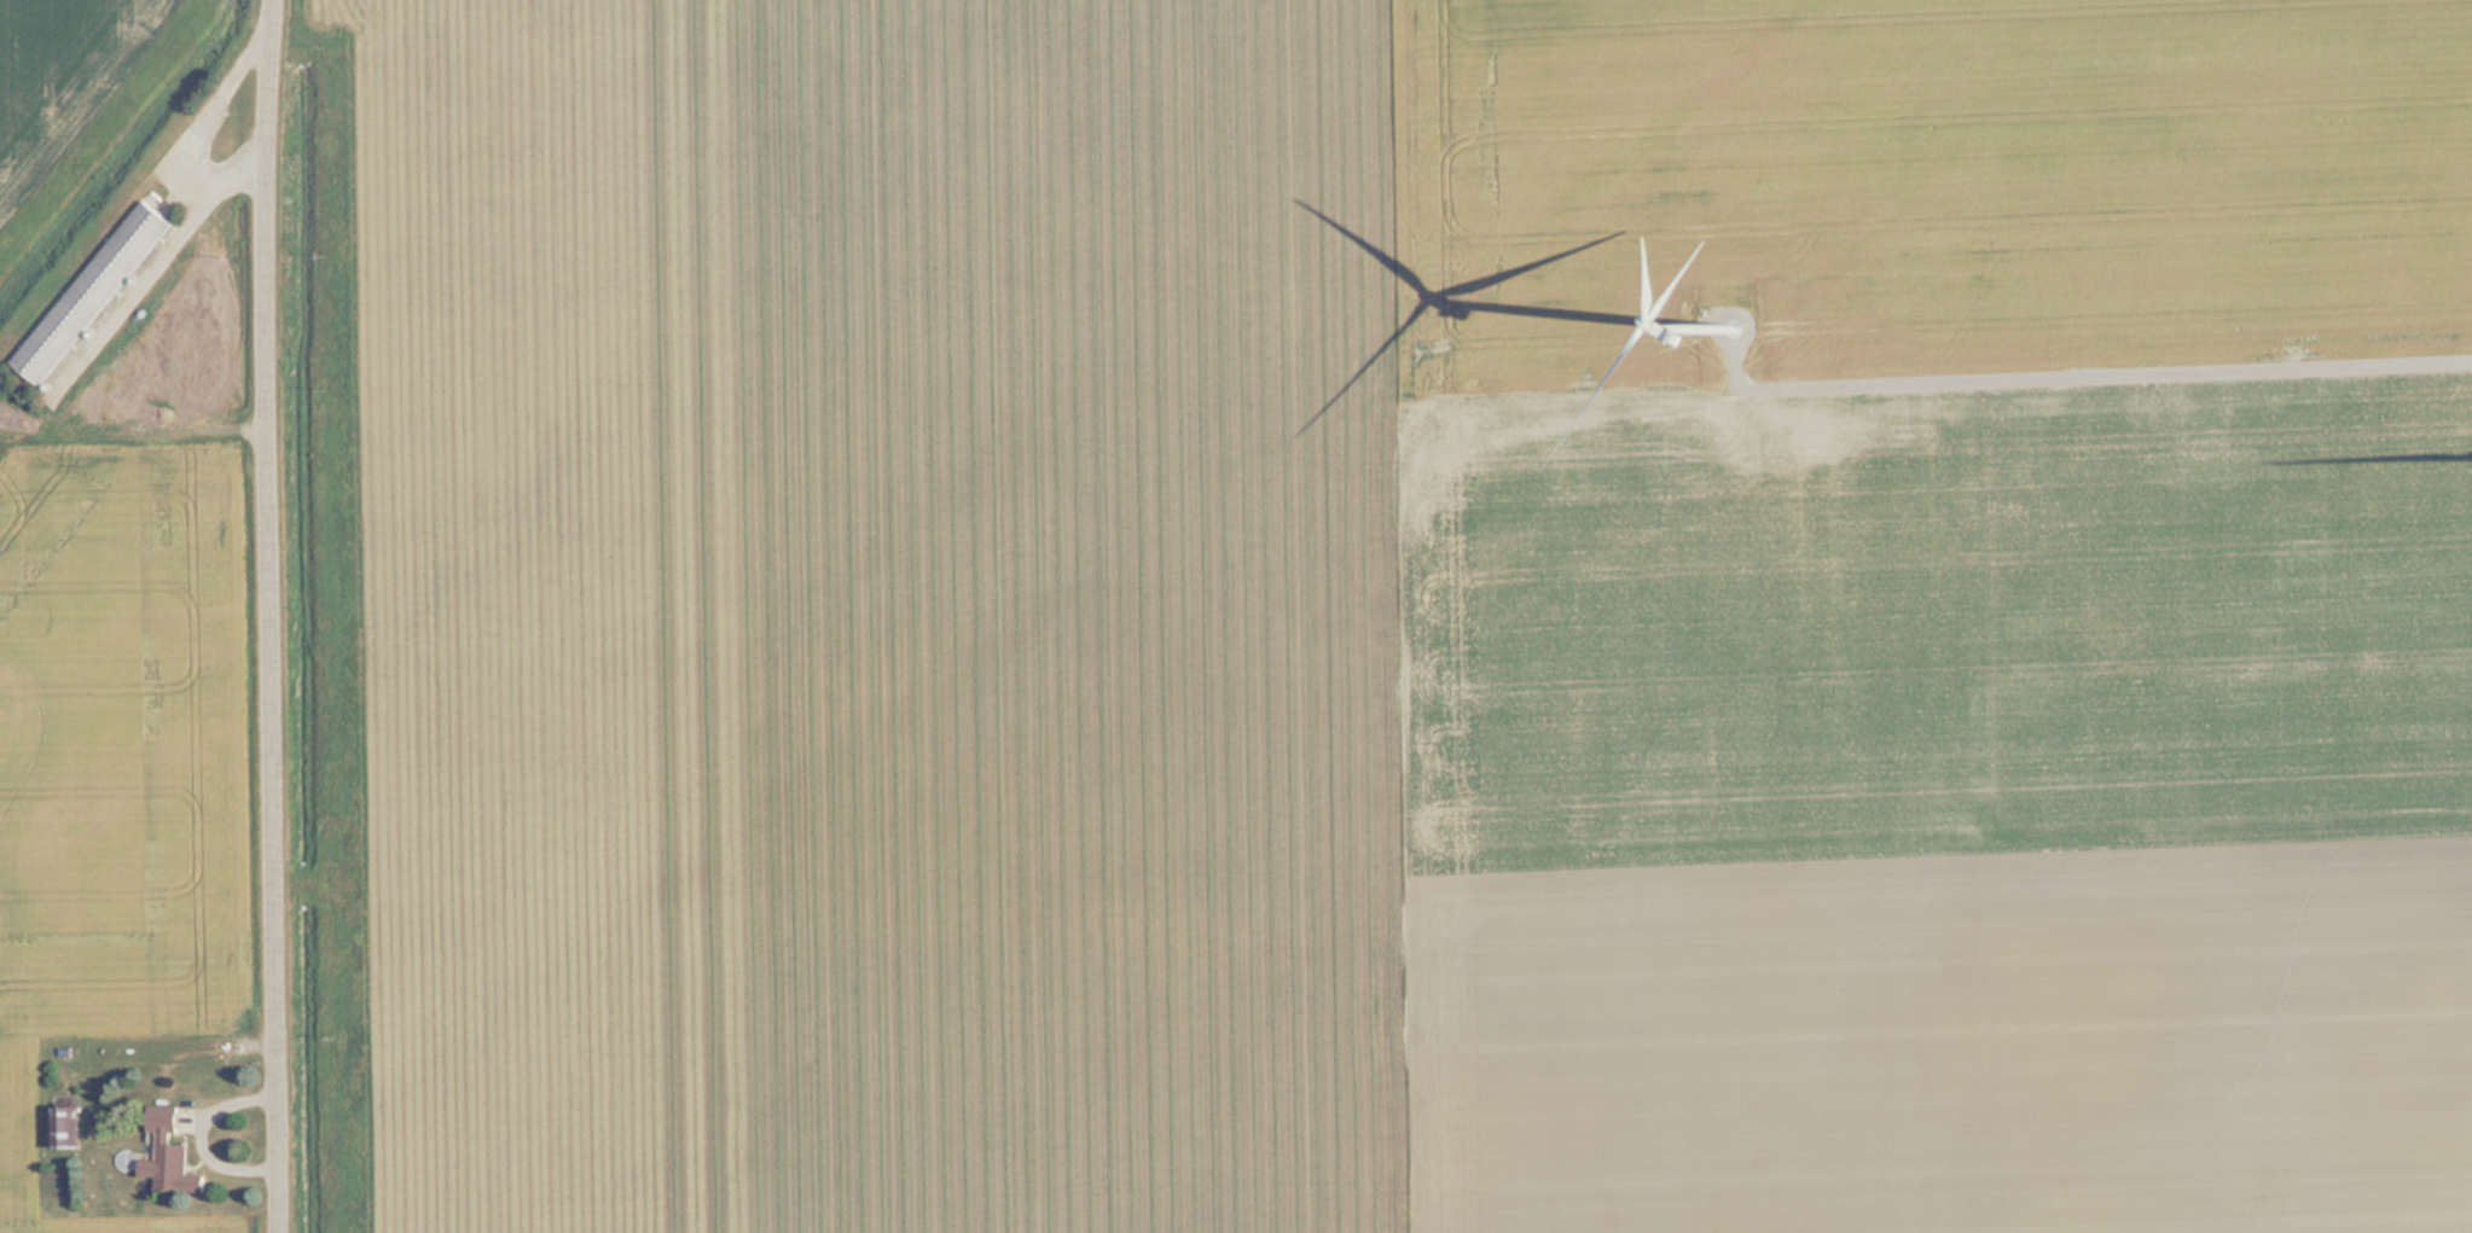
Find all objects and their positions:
building: (94, 292)
wind turbine: (1733, 322)
road: (283, 616)
building: (66, 1127)
building: (169, 1155)

